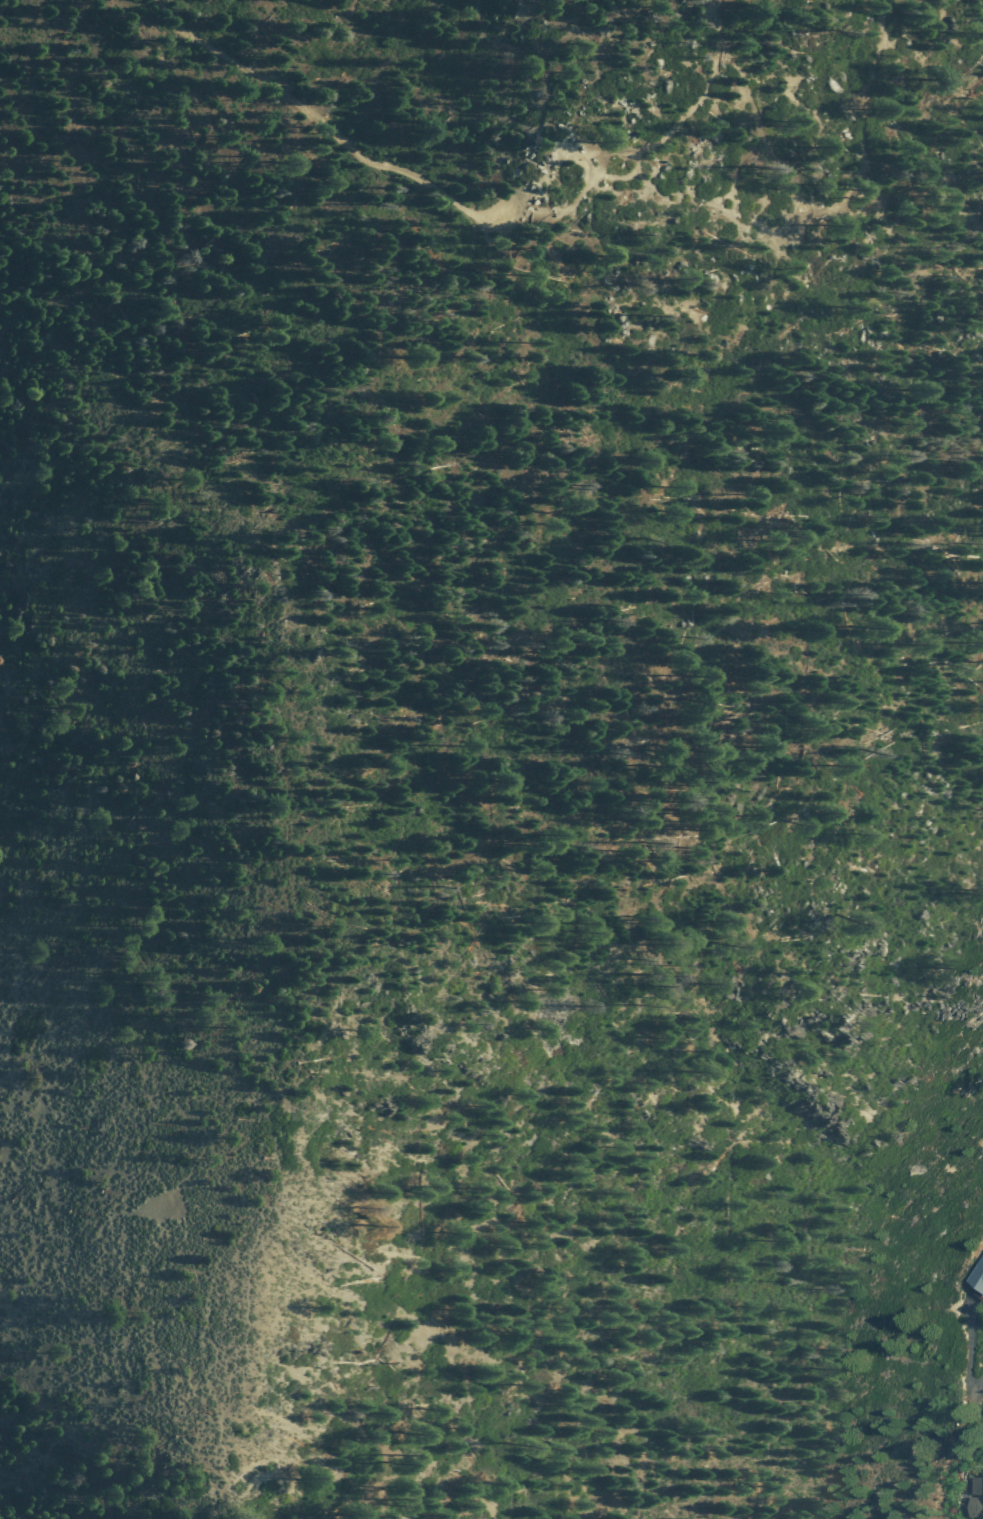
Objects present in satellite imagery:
road: (464, 211)
building: (977, 1270)
road: (969, 1347)
building: (977, 1495)

